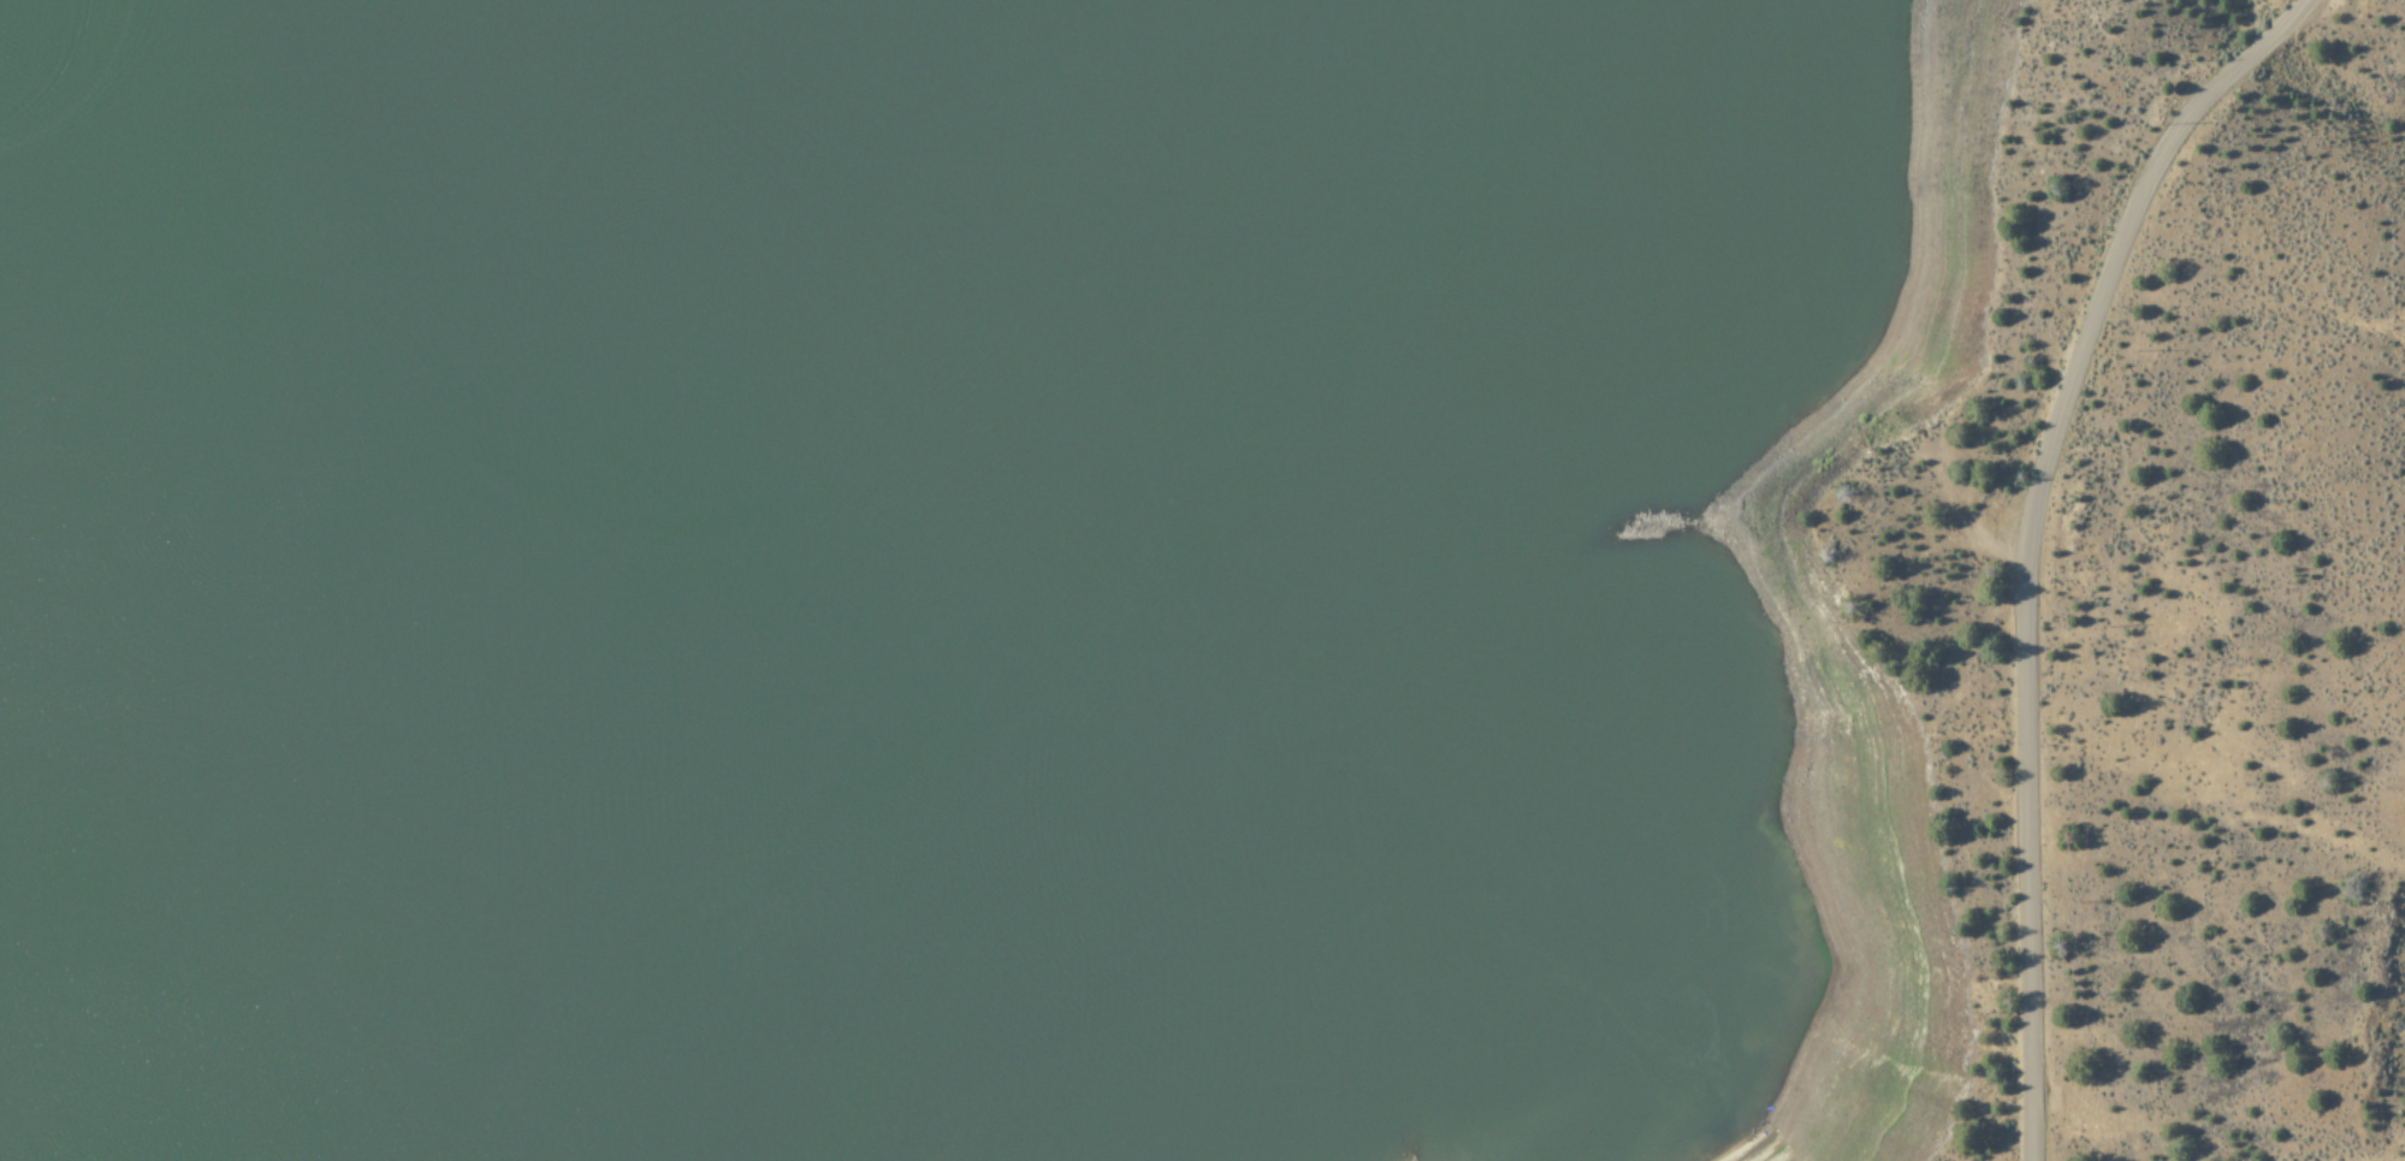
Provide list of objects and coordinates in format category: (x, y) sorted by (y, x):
road: (2033, 544)
river: (38, 1125)

